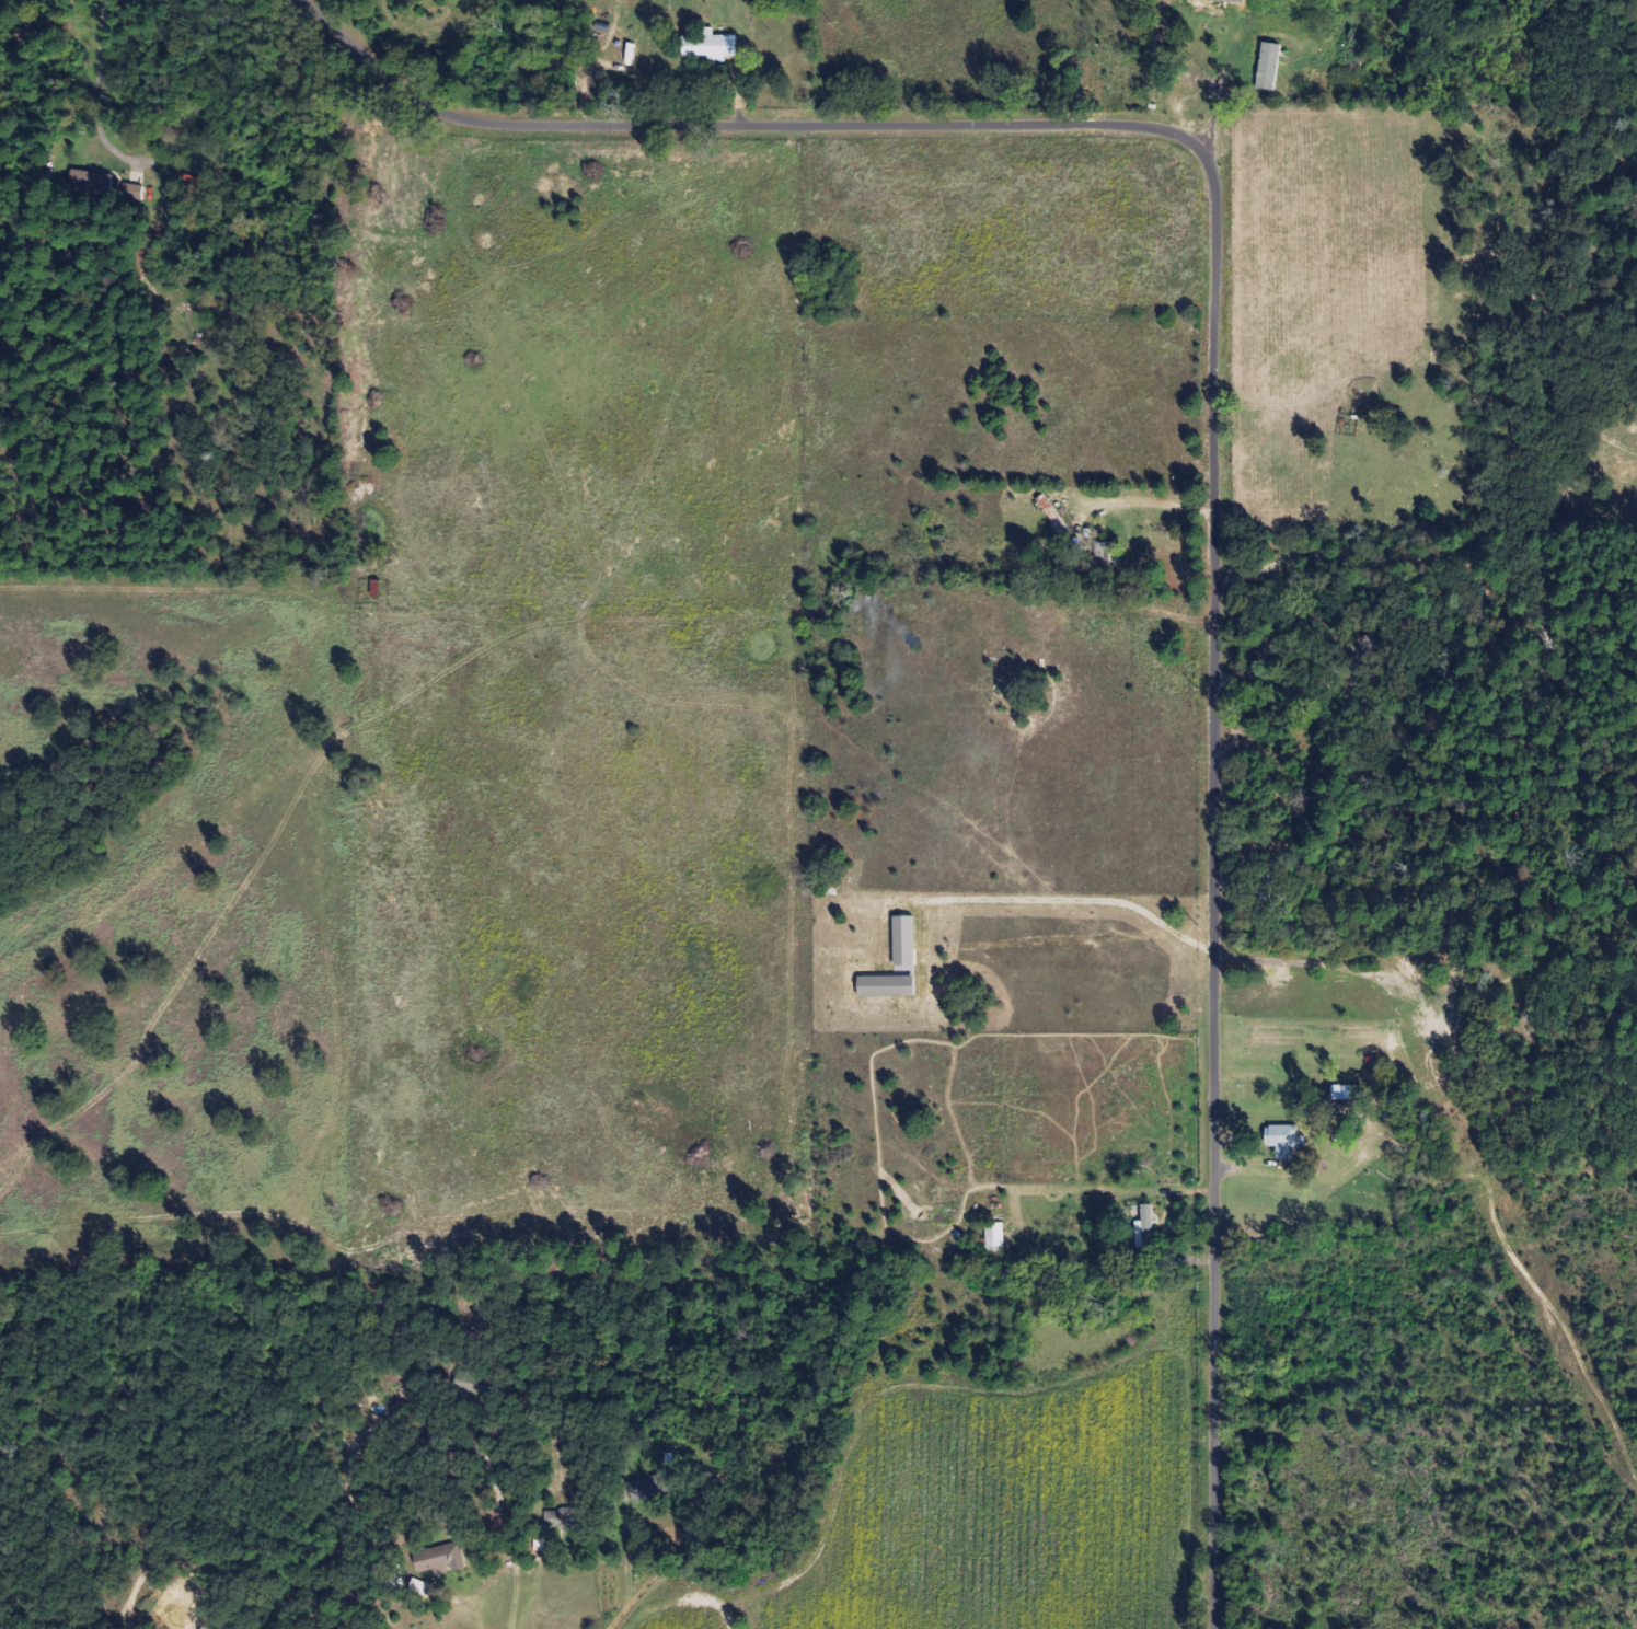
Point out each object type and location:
building: (1221, 4)
building: (713, 46)
building: (1270, 67)
building: (95, 182)
road: (1214, 414)
building: (907, 940)
building: (1286, 1141)
building: (1149, 1215)
building: (998, 1237)
building: (654, 1487)
building: (441, 1560)
road: (647, 1575)

